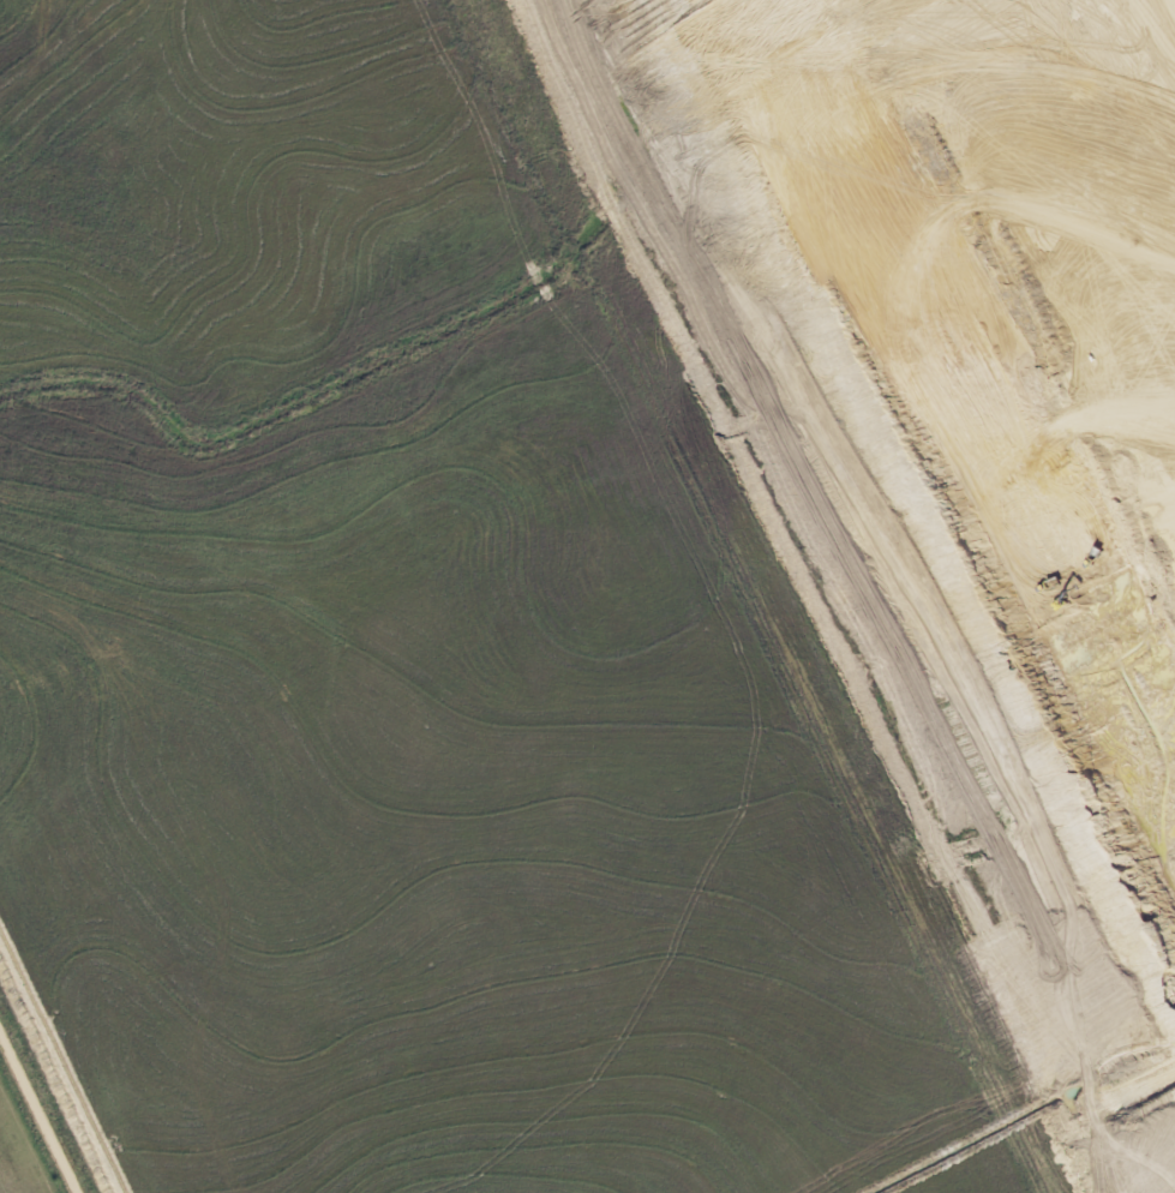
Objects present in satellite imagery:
road: (36, 1115)

